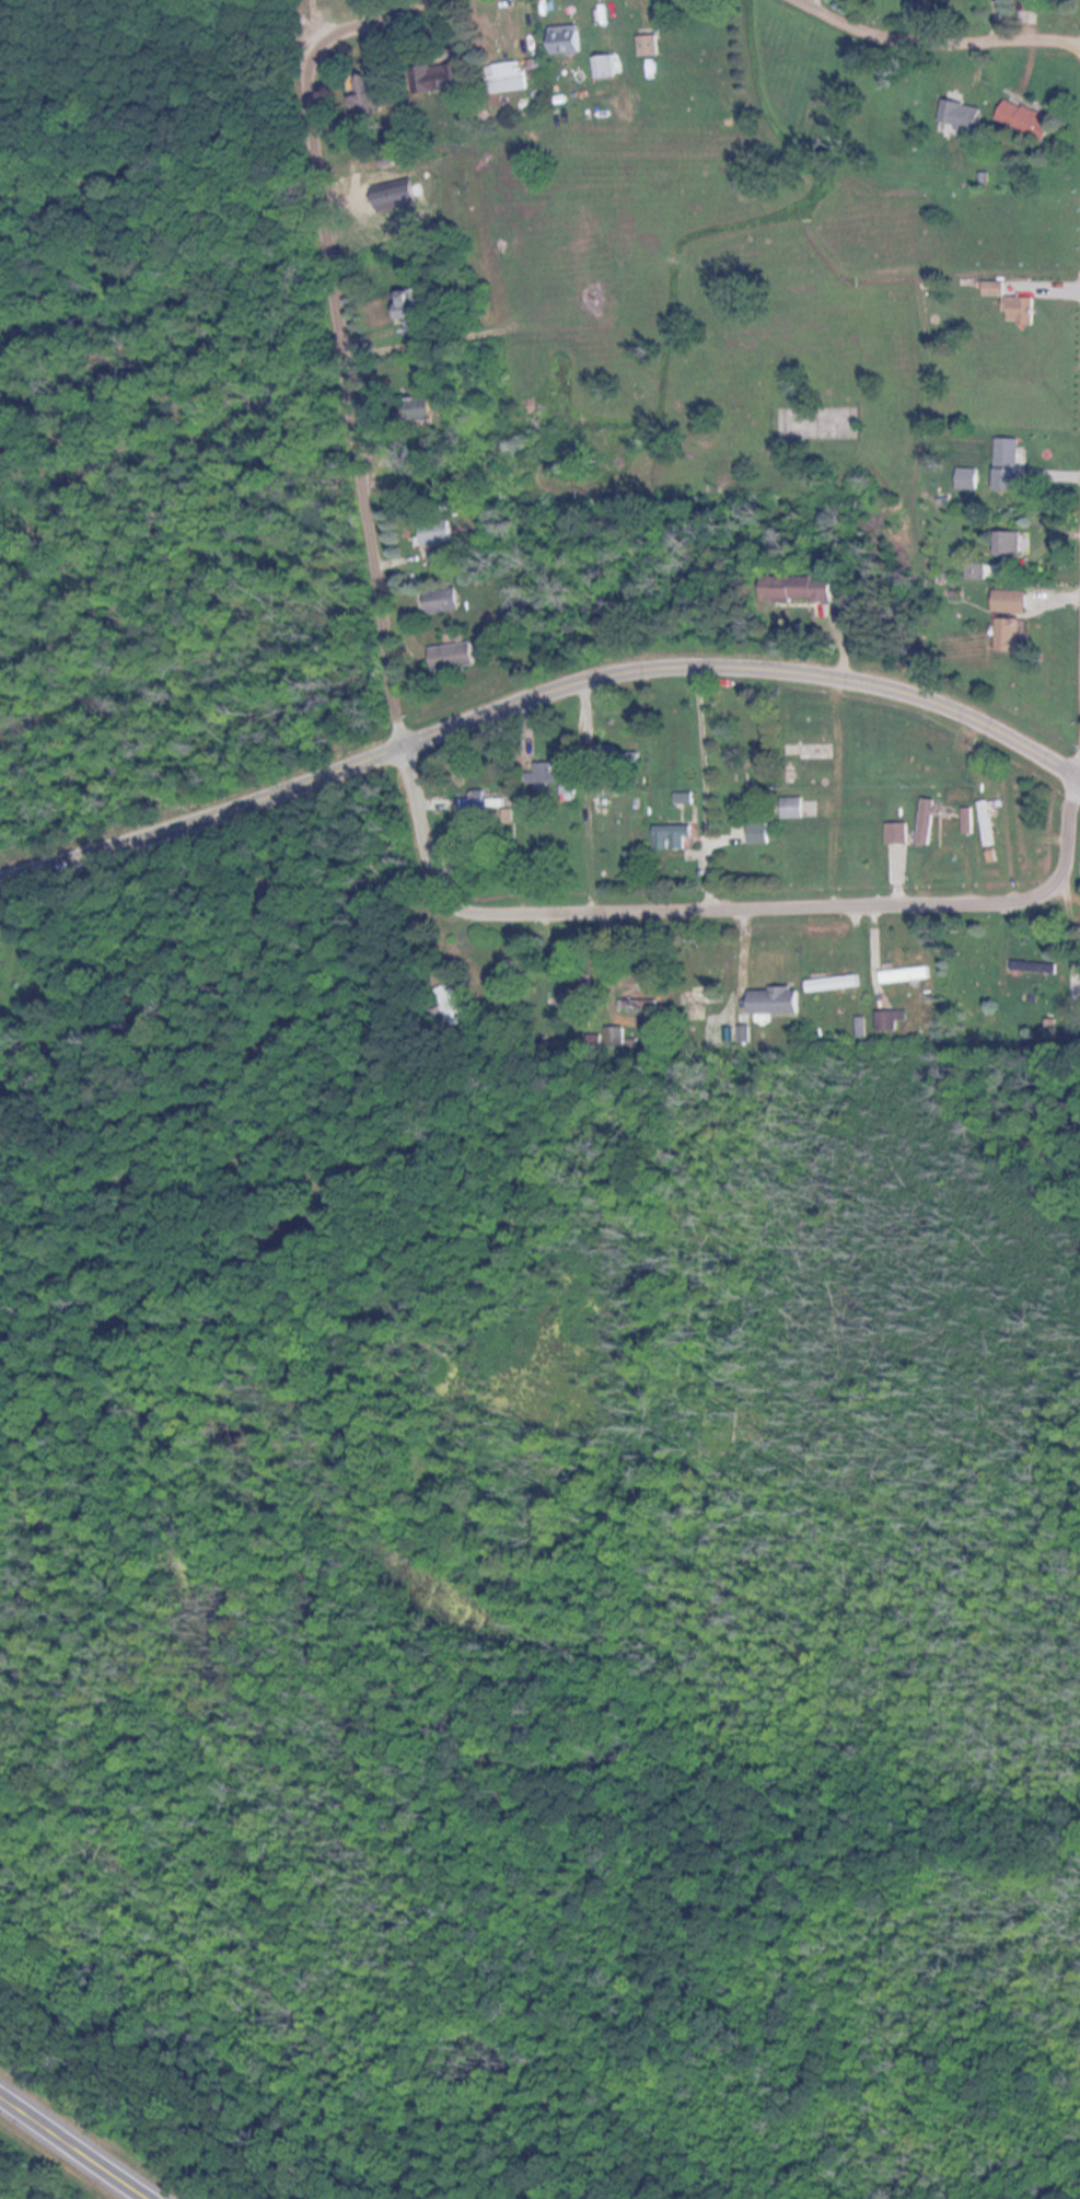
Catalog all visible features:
building: (1033, 5)
road: (941, 34)
building: (571, 40)
building: (652, 46)
building: (606, 68)
building: (511, 78)
building: (444, 81)
building: (371, 96)
building: (967, 117)
building: (1031, 120)
building: (997, 289)
building: (1022, 312)
building: (419, 313)
road: (342, 342)
building: (429, 409)
building: (1011, 455)
building: (969, 481)
building: (441, 534)
building: (1012, 545)
building: (979, 572)
building: (803, 590)
building: (445, 602)
building: (1017, 603)
building: (1013, 637)
building: (457, 659)
road: (537, 692)
building: (814, 752)
building: (558, 778)
building: (688, 805)
building: (798, 808)
building: (969, 820)
building: (932, 821)
building: (991, 823)
building: (901, 833)
building: (764, 834)
building: (676, 836)
road: (724, 905)
building: (1034, 968)
building: (909, 975)
building: (837, 984)
building: (587, 997)
building: (706, 1002)
building: (781, 1002)
building: (457, 1006)
building: (895, 1020)
road: (79, 2142)

